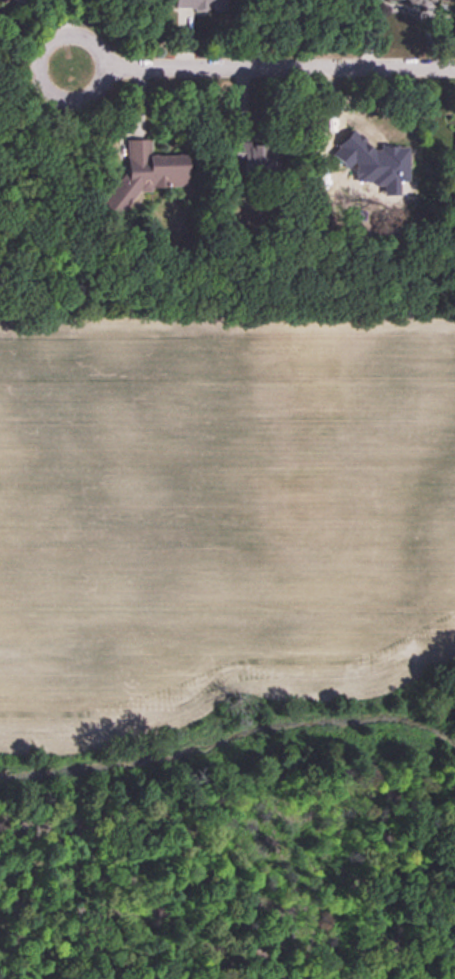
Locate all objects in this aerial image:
building: (419, 1)
building: (4, 2)
building: (199, 4)
road: (233, 67)
building: (454, 145)
building: (146, 169)

